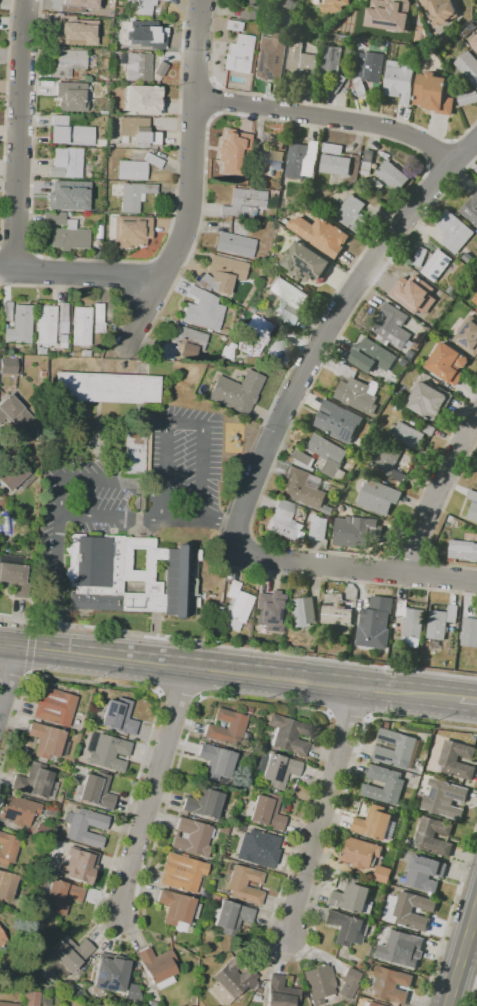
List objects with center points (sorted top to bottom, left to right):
building: (163, 0)
road: (11, 2)
building: (287, 4)
building: (79, 6)
building: (142, 6)
building: (334, 6)
building: (253, 9)
building: (441, 10)
building: (385, 12)
building: (233, 25)
building: (79, 30)
building: (265, 30)
building: (136, 31)
building: (474, 41)
building: (157, 42)
building: (238, 54)
building: (271, 57)
building: (301, 59)
building: (67, 63)
building: (105, 63)
building: (370, 65)
building: (135, 66)
building: (332, 66)
building: (468, 67)
building: (158, 70)
building: (400, 80)
building: (300, 82)
building: (359, 86)
building: (435, 94)
building: (70, 97)
building: (468, 97)
building: (142, 100)
road: (193, 114)
road: (330, 118)
road: (5, 126)
road: (34, 127)
building: (138, 132)
building: (72, 133)
road: (349, 133)
road: (20, 136)
building: (273, 142)
building: (225, 147)
building: (332, 148)
building: (301, 159)
building: (65, 163)
building: (266, 163)
building: (367, 163)
building: (335, 165)
building: (136, 168)
building: (392, 176)
building: (230, 179)
road: (194, 185)
road: (176, 192)
building: (61, 194)
building: (130, 194)
building: (244, 202)
building: (471, 209)
building: (351, 214)
building: (453, 229)
building: (130, 231)
building: (65, 232)
building: (321, 235)
building: (234, 242)
road: (16, 252)
building: (420, 258)
building: (305, 262)
building: (436, 264)
road: (163, 267)
road: (31, 270)
building: (222, 274)
road: (80, 277)
road: (7, 285)
road: (107, 290)
building: (414, 293)
building: (475, 299)
road: (150, 300)
building: (288, 300)
building: (476, 309)
building: (5, 311)
building: (199, 311)
building: (62, 312)
building: (97, 319)
building: (45, 325)
building: (391, 325)
building: (19, 326)
building: (81, 326)
road: (326, 330)
building: (468, 335)
building: (251, 337)
building: (181, 344)
building: (274, 349)
building: (227, 352)
building: (371, 356)
building: (447, 362)
building: (7, 366)
building: (375, 375)
building: (106, 389)
building: (235, 391)
building: (354, 391)
building: (428, 400)
building: (14, 415)
building: (337, 421)
park: (75, 433)
building: (407, 435)
building: (42, 436)
building: (134, 451)
building: (327, 454)
building: (302, 457)
road: (164, 462)
building: (391, 465)
building: (12, 475)
road: (94, 480)
building: (304, 487)
road: (436, 492)
building: (472, 495)
building: (378, 497)
parking lot: (83, 507)
building: (327, 510)
building: (472, 511)
road: (217, 518)
road: (181, 520)
building: (285, 522)
building: (318, 528)
building: (352, 531)
building: (462, 550)
road: (352, 565)
road: (269, 573)
building: (128, 576)
building: (15, 579)
road: (56, 583)
building: (236, 607)
building: (269, 611)
building: (302, 611)
building: (336, 611)
building: (476, 613)
road: (25, 618)
road: (33, 622)
building: (441, 622)
building: (410, 623)
building: (373, 627)
building: (469, 632)
road: (136, 634)
road: (29, 649)
road: (94, 654)
road: (350, 661)
road: (14, 672)
road: (28, 676)
road: (8, 679)
road: (325, 683)
road: (207, 697)
road: (469, 701)
building: (53, 706)
building: (116, 716)
building: (226, 728)
building: (289, 735)
building: (47, 742)
building: (396, 748)
building: (107, 751)
building: (457, 760)
building: (215, 762)
building: (277, 769)
building: (35, 781)
building: (394, 786)
building: (95, 790)
road: (152, 790)
building: (445, 798)
building: (203, 802)
building: (50, 810)
building: (265, 811)
road: (322, 811)
building: (18, 812)
building: (376, 823)
building: (85, 826)
building: (42, 832)
building: (434, 836)
building: (192, 837)
building: (7, 849)
building: (258, 849)
building: (362, 853)
building: (77, 865)
building: (423, 871)
building: (182, 872)
building: (383, 874)
building: (244, 884)
building: (6, 885)
building: (59, 895)
building: (353, 897)
building: (177, 909)
building: (403, 909)
road: (449, 912)
building: (231, 917)
building: (347, 928)
building: (2, 939)
building: (402, 948)
building: (68, 955)
road: (462, 957)
building: (157, 967)
building: (110, 972)
building: (231, 981)
building: (319, 983)
building: (348, 983)
building: (392, 985)
building: (133, 993)
building: (280, 993)
road: (473, 994)
building: (30, 998)
building: (44, 1000)
building: (8, 1004)
building: (370, 1004)
building: (388, 1005)

